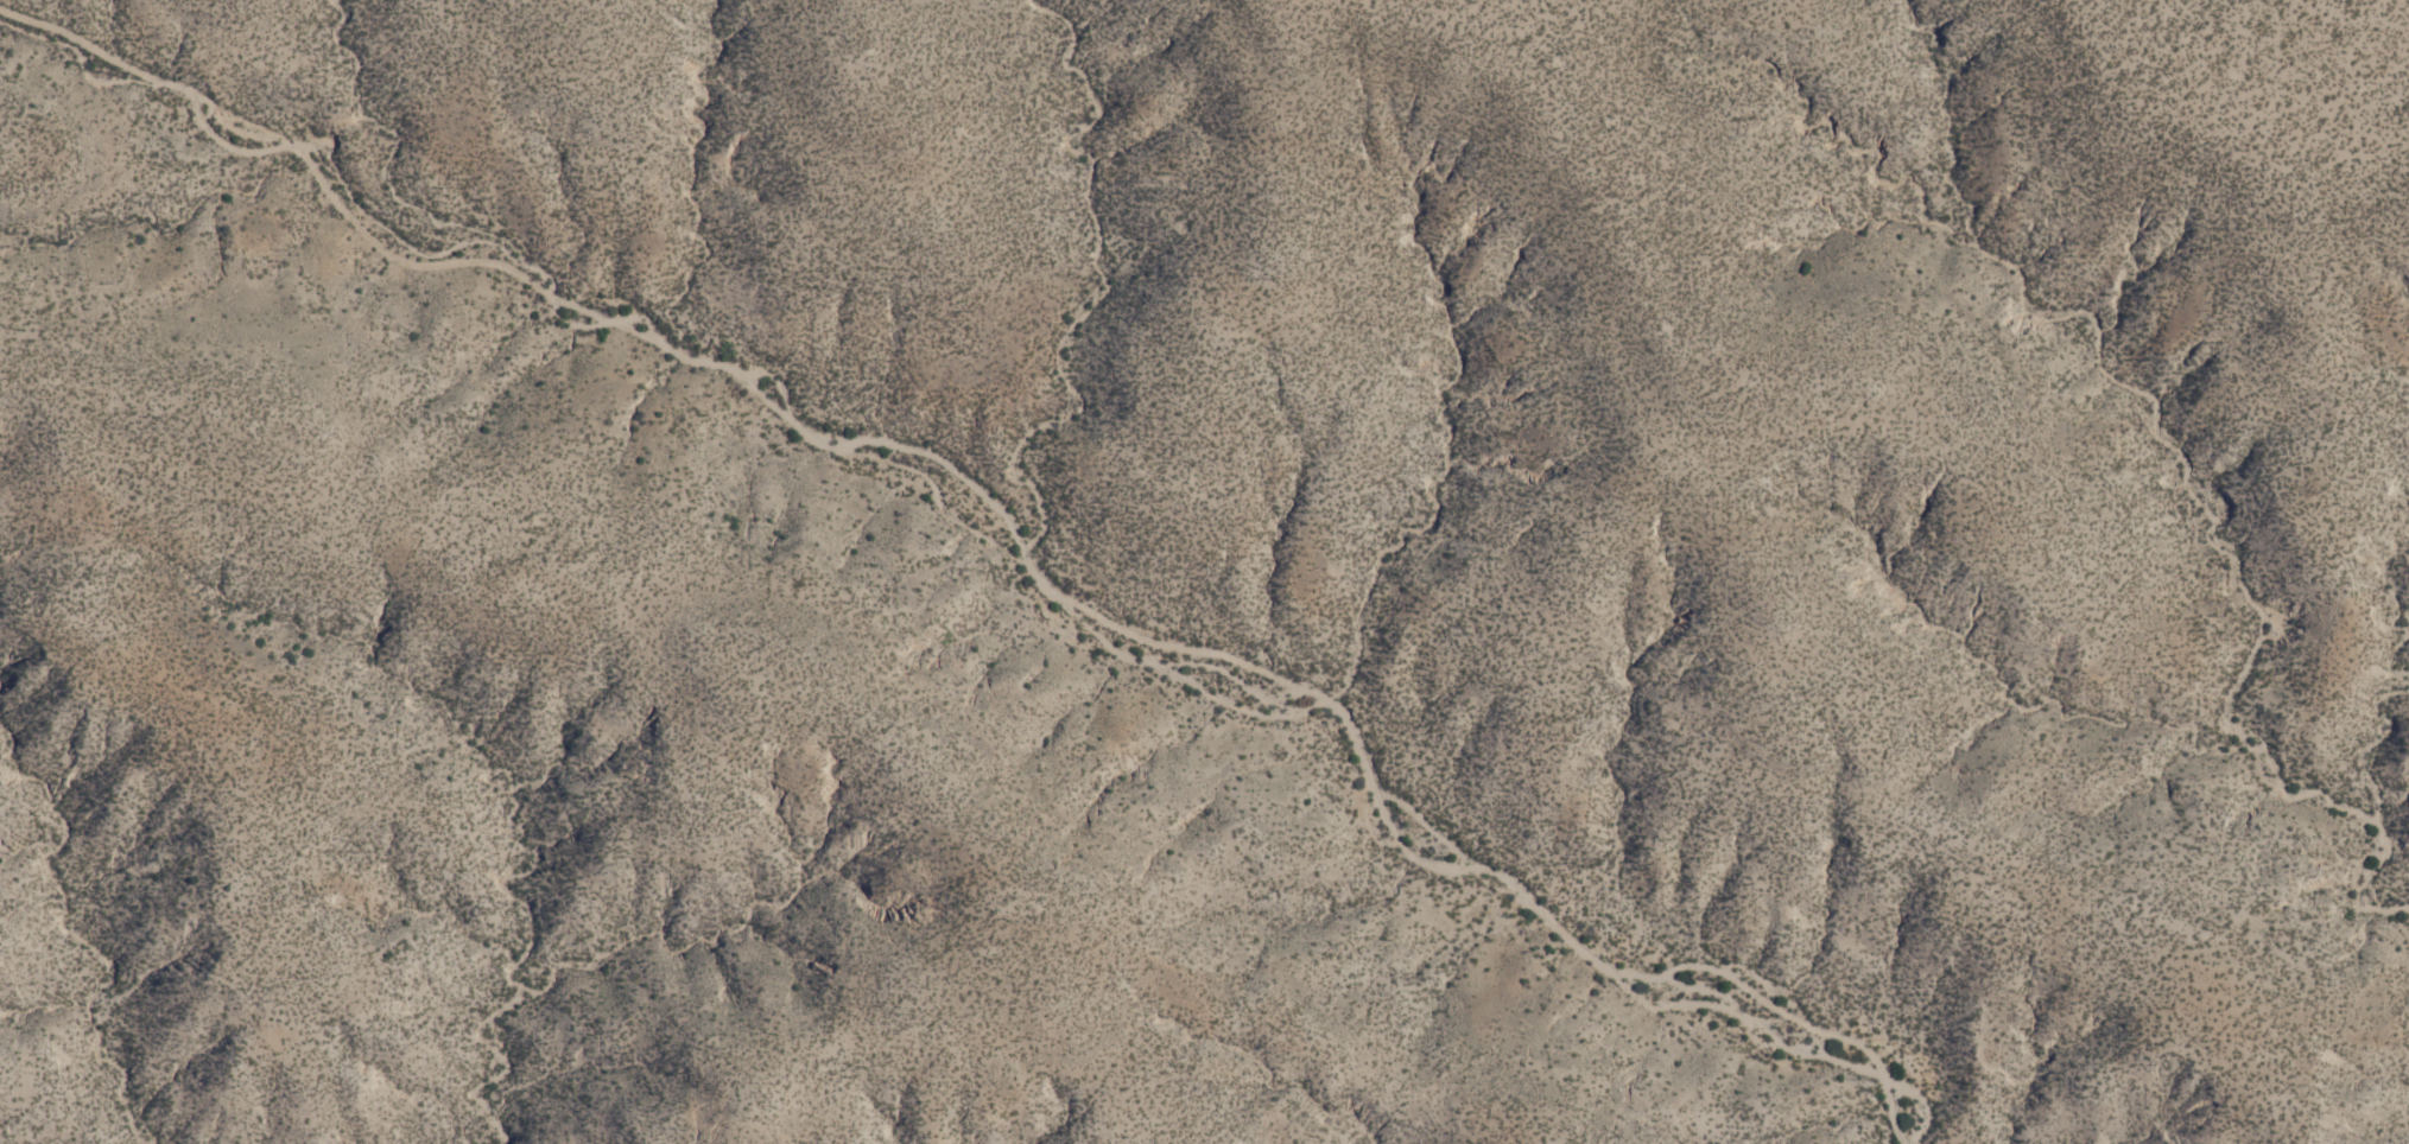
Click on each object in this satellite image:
road: (304, 166)

